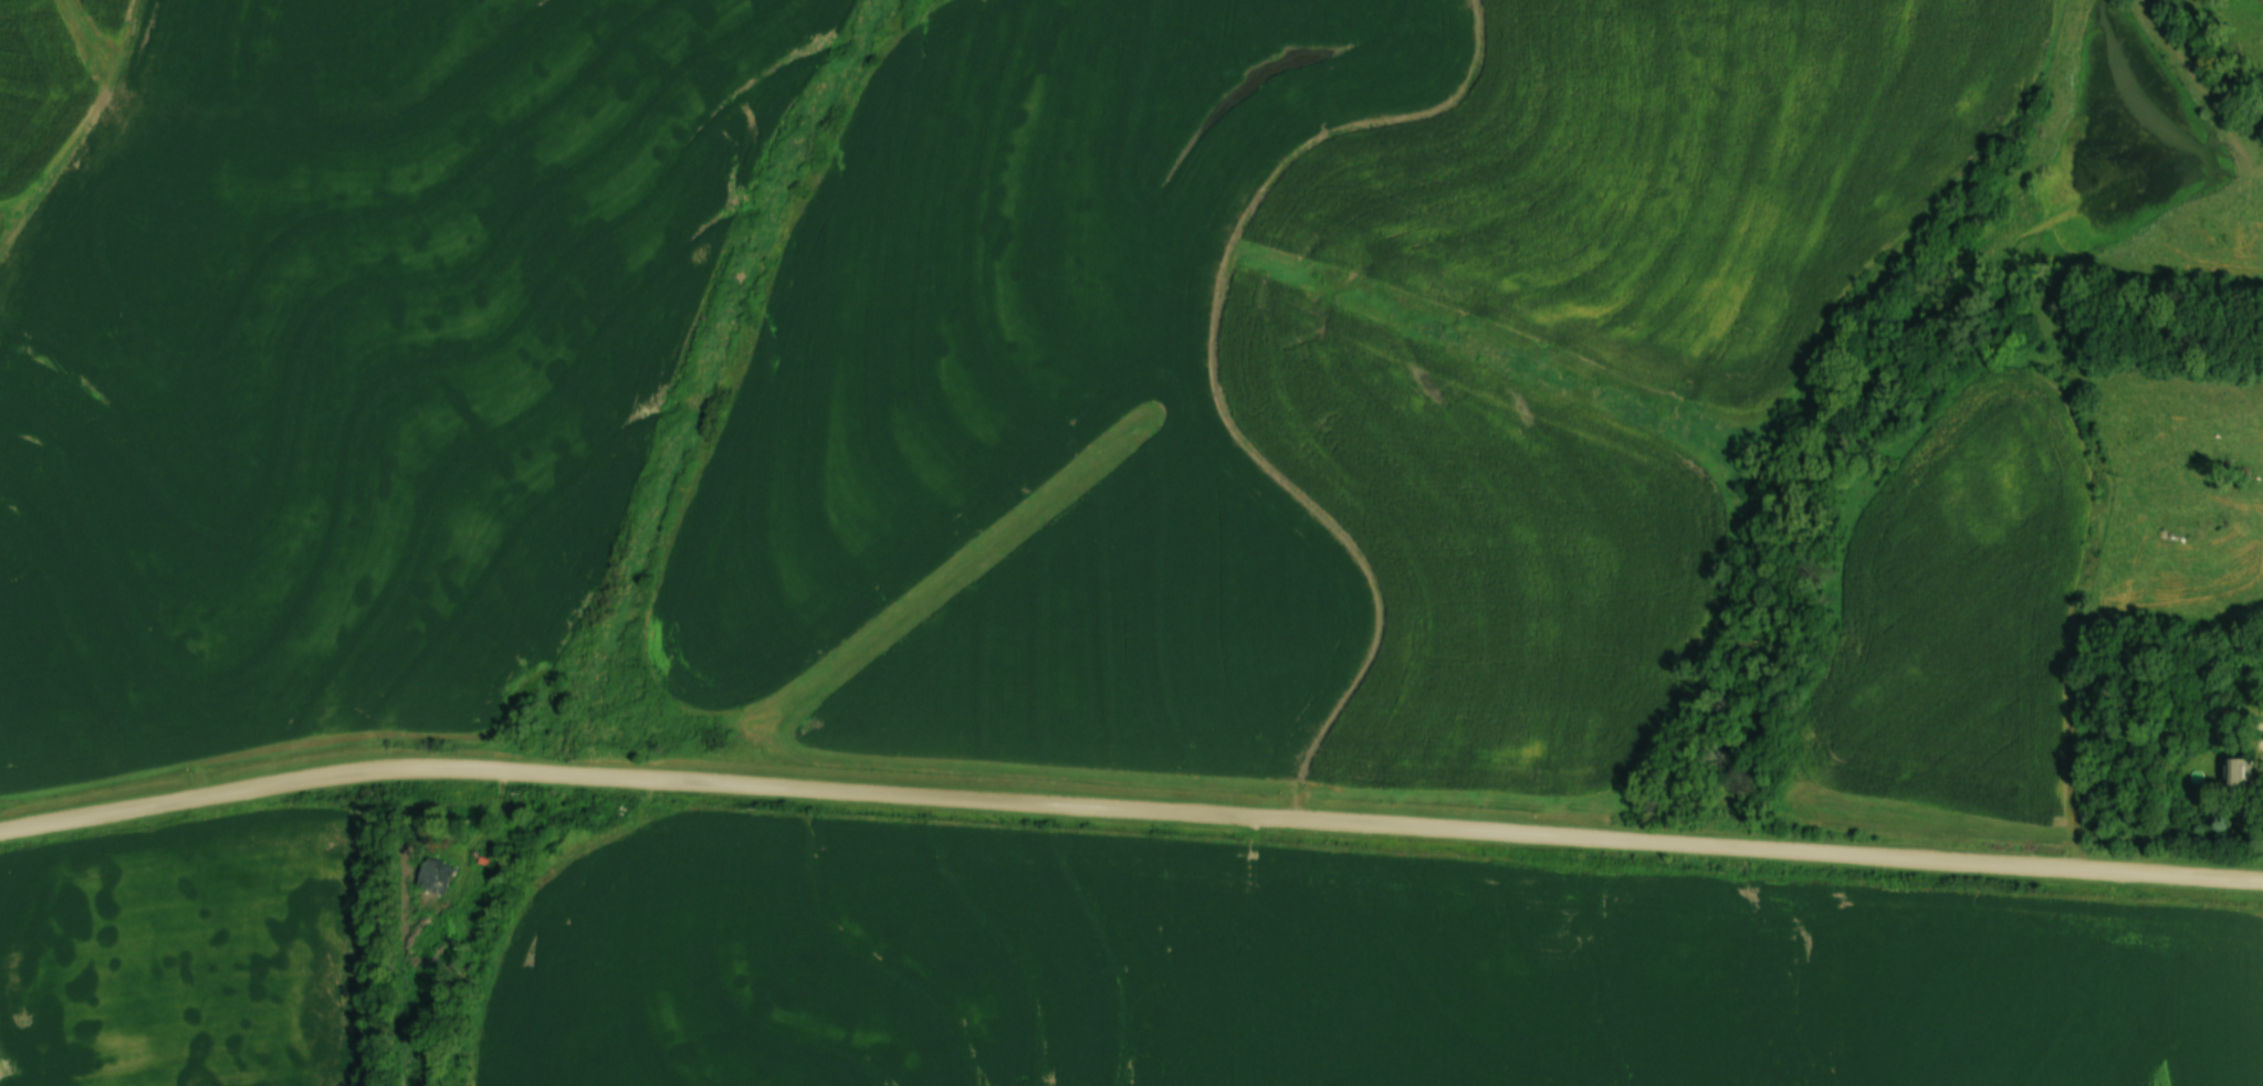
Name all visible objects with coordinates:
building: (2204, 715)
building: (2235, 770)
road: (1129, 808)

